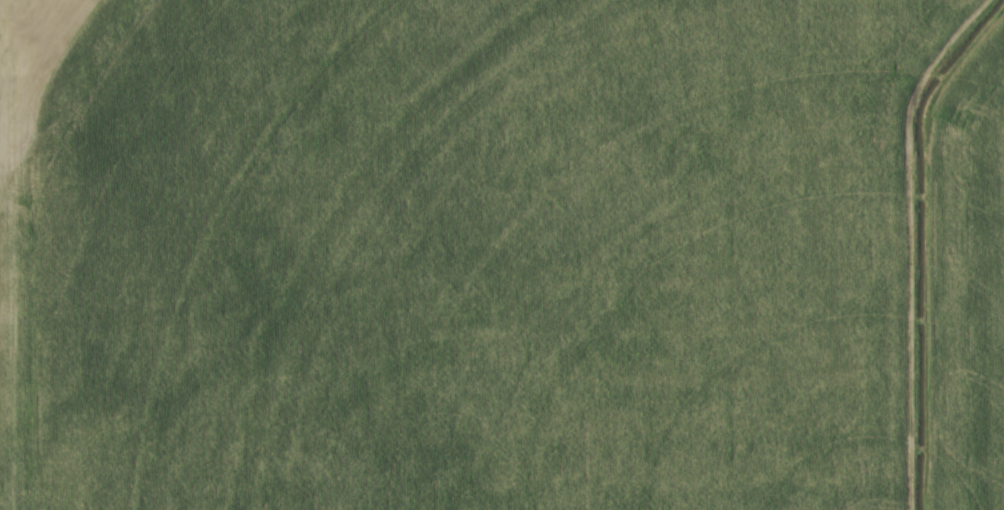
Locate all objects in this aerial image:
crop: (502, 255)

